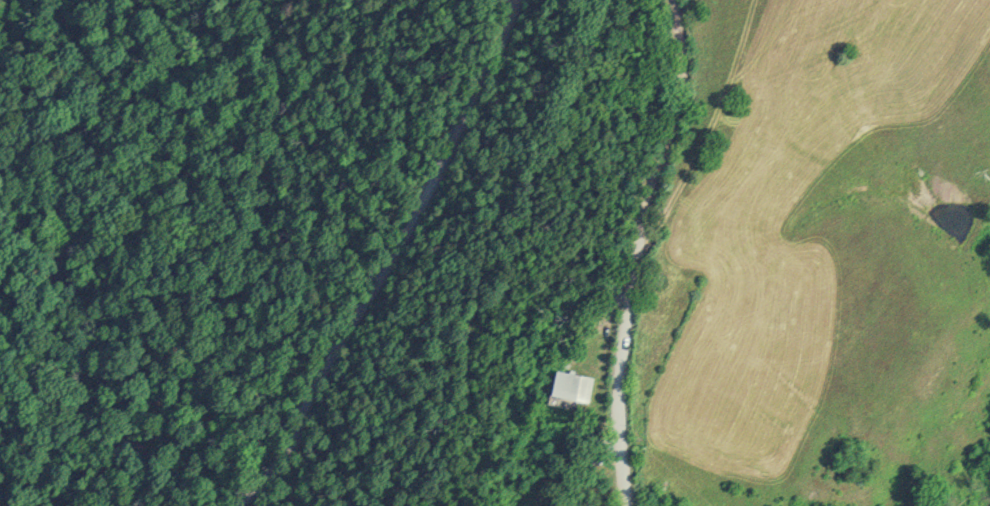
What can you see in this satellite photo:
road: (641, 252)
road: (370, 253)
building: (569, 392)

